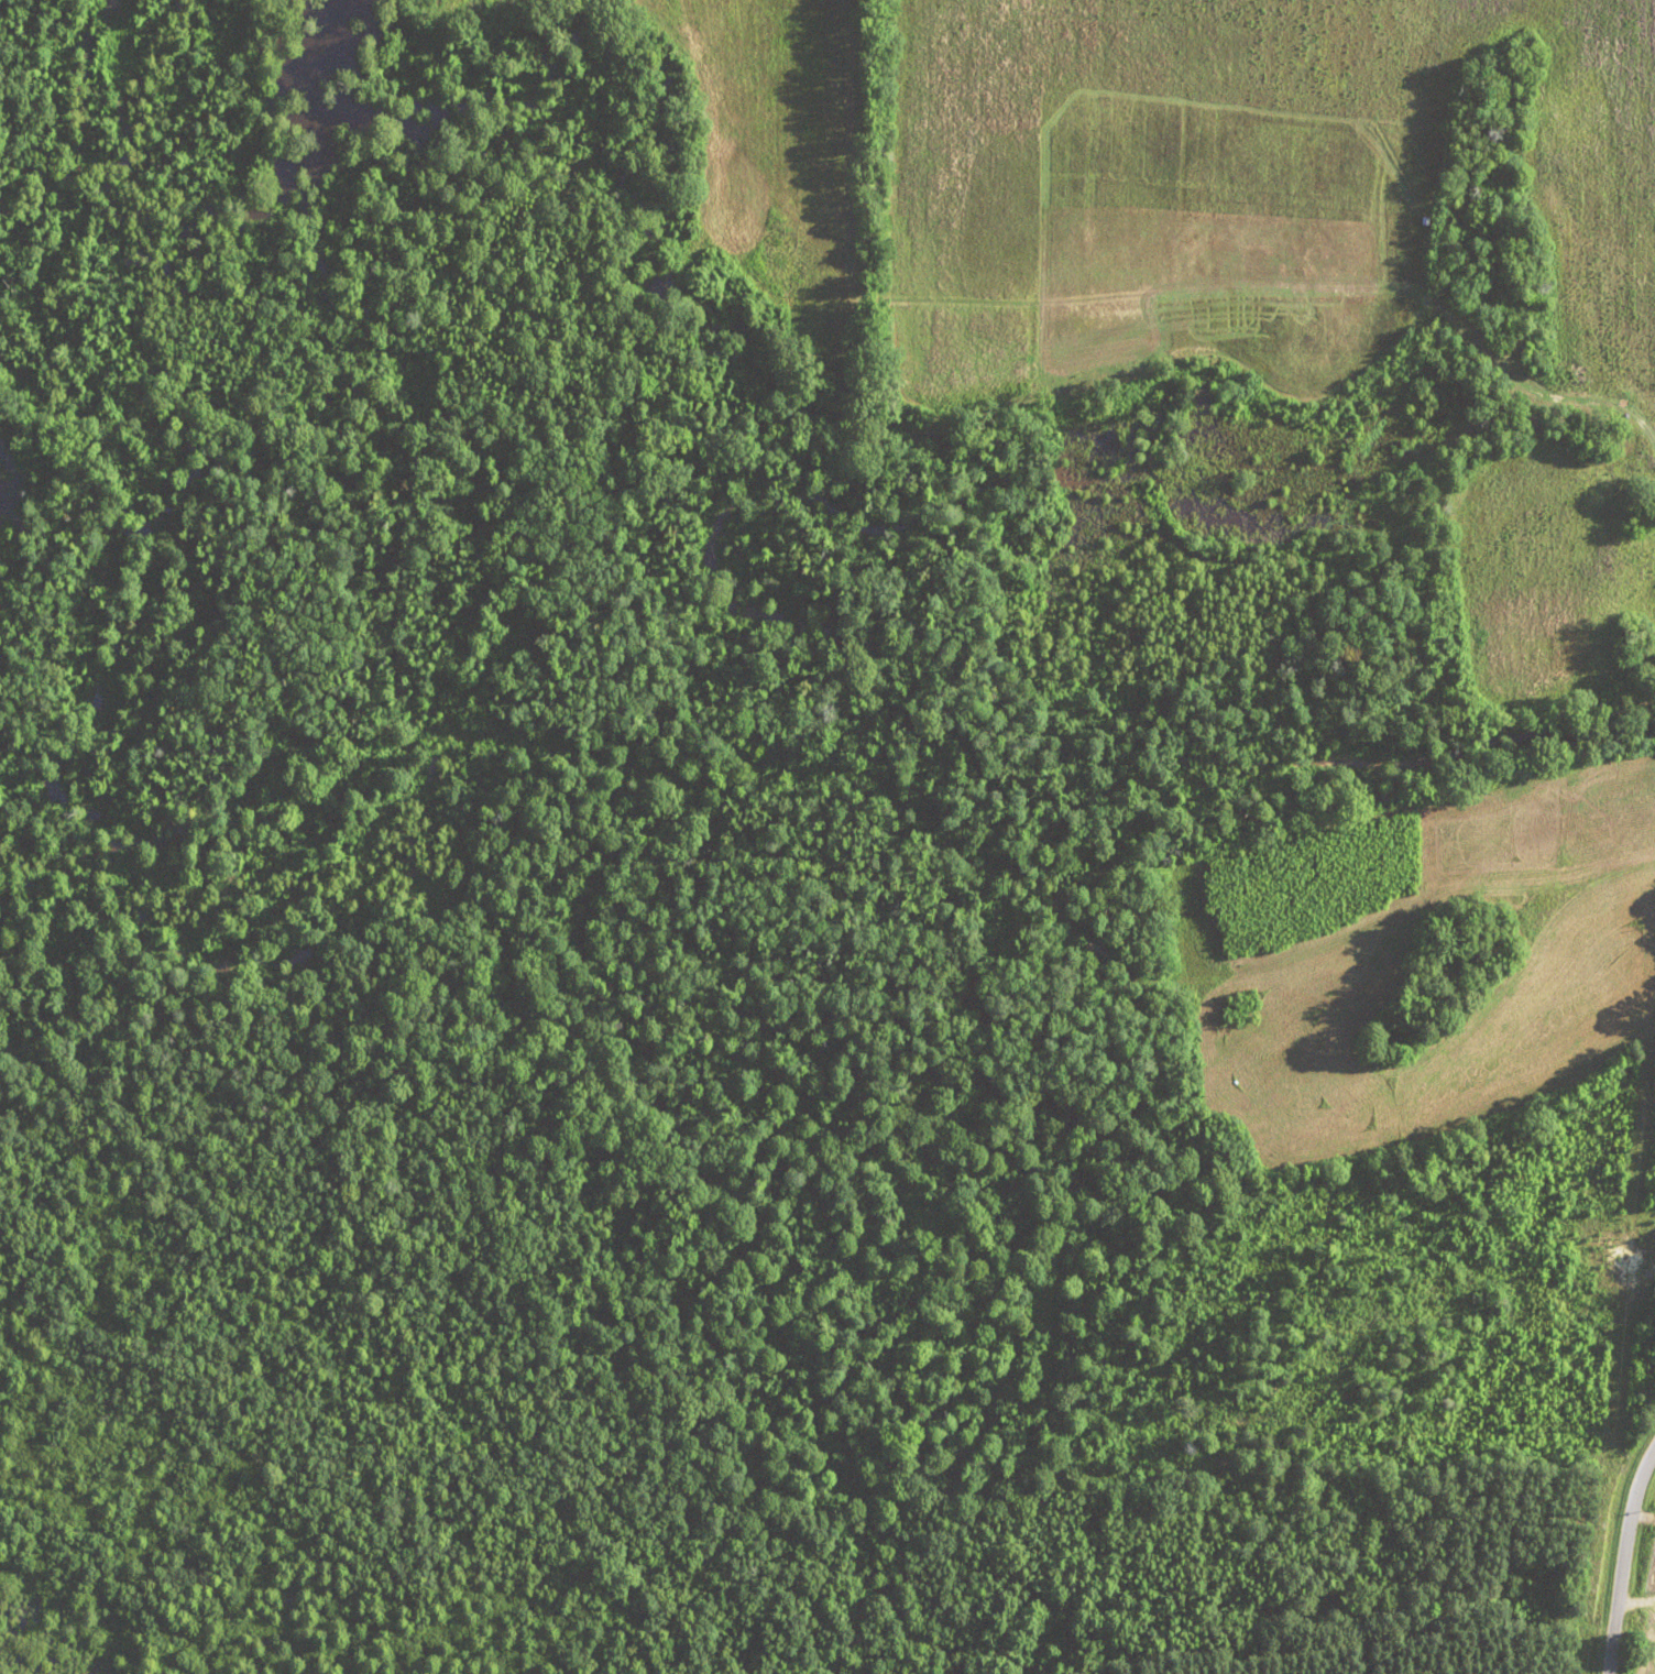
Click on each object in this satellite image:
road: (1619, 1552)

